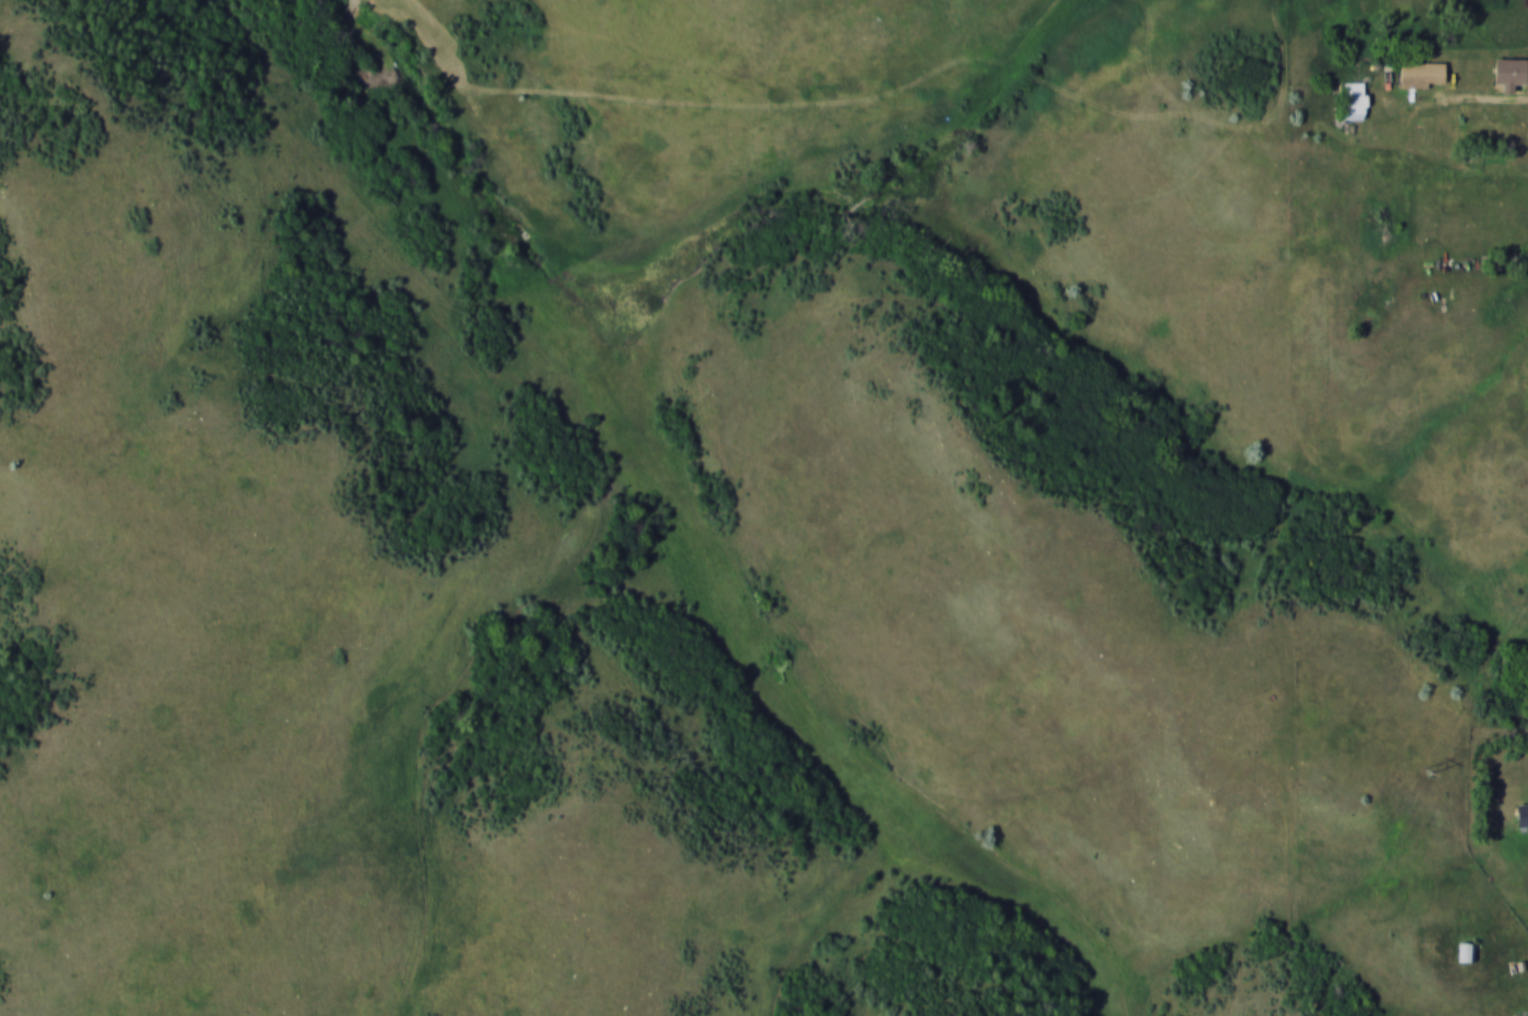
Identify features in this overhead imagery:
building: (1421, 73)
building: (1509, 73)
road: (1487, 93)
building: (1354, 100)
power tower: (1429, 772)
building: (1522, 814)
building: (1465, 951)

